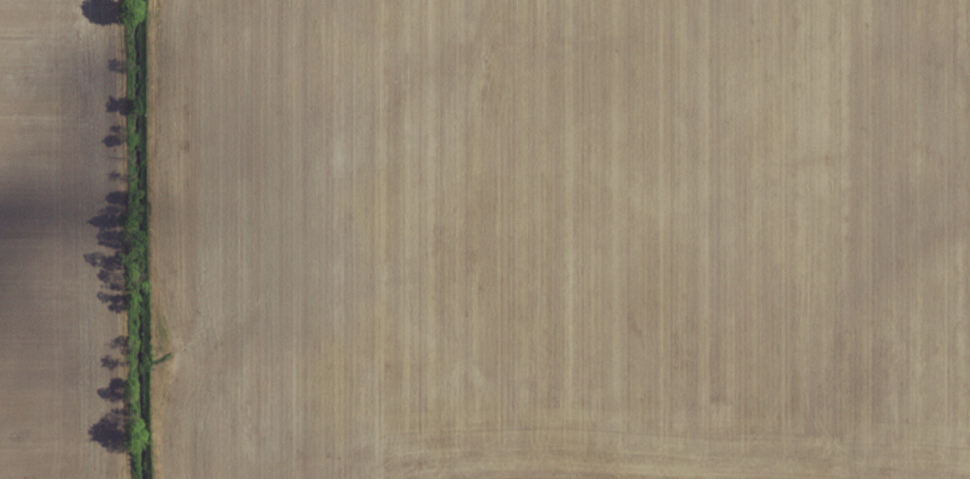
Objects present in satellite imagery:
crop: (60, 236)
crop: (569, 238)

